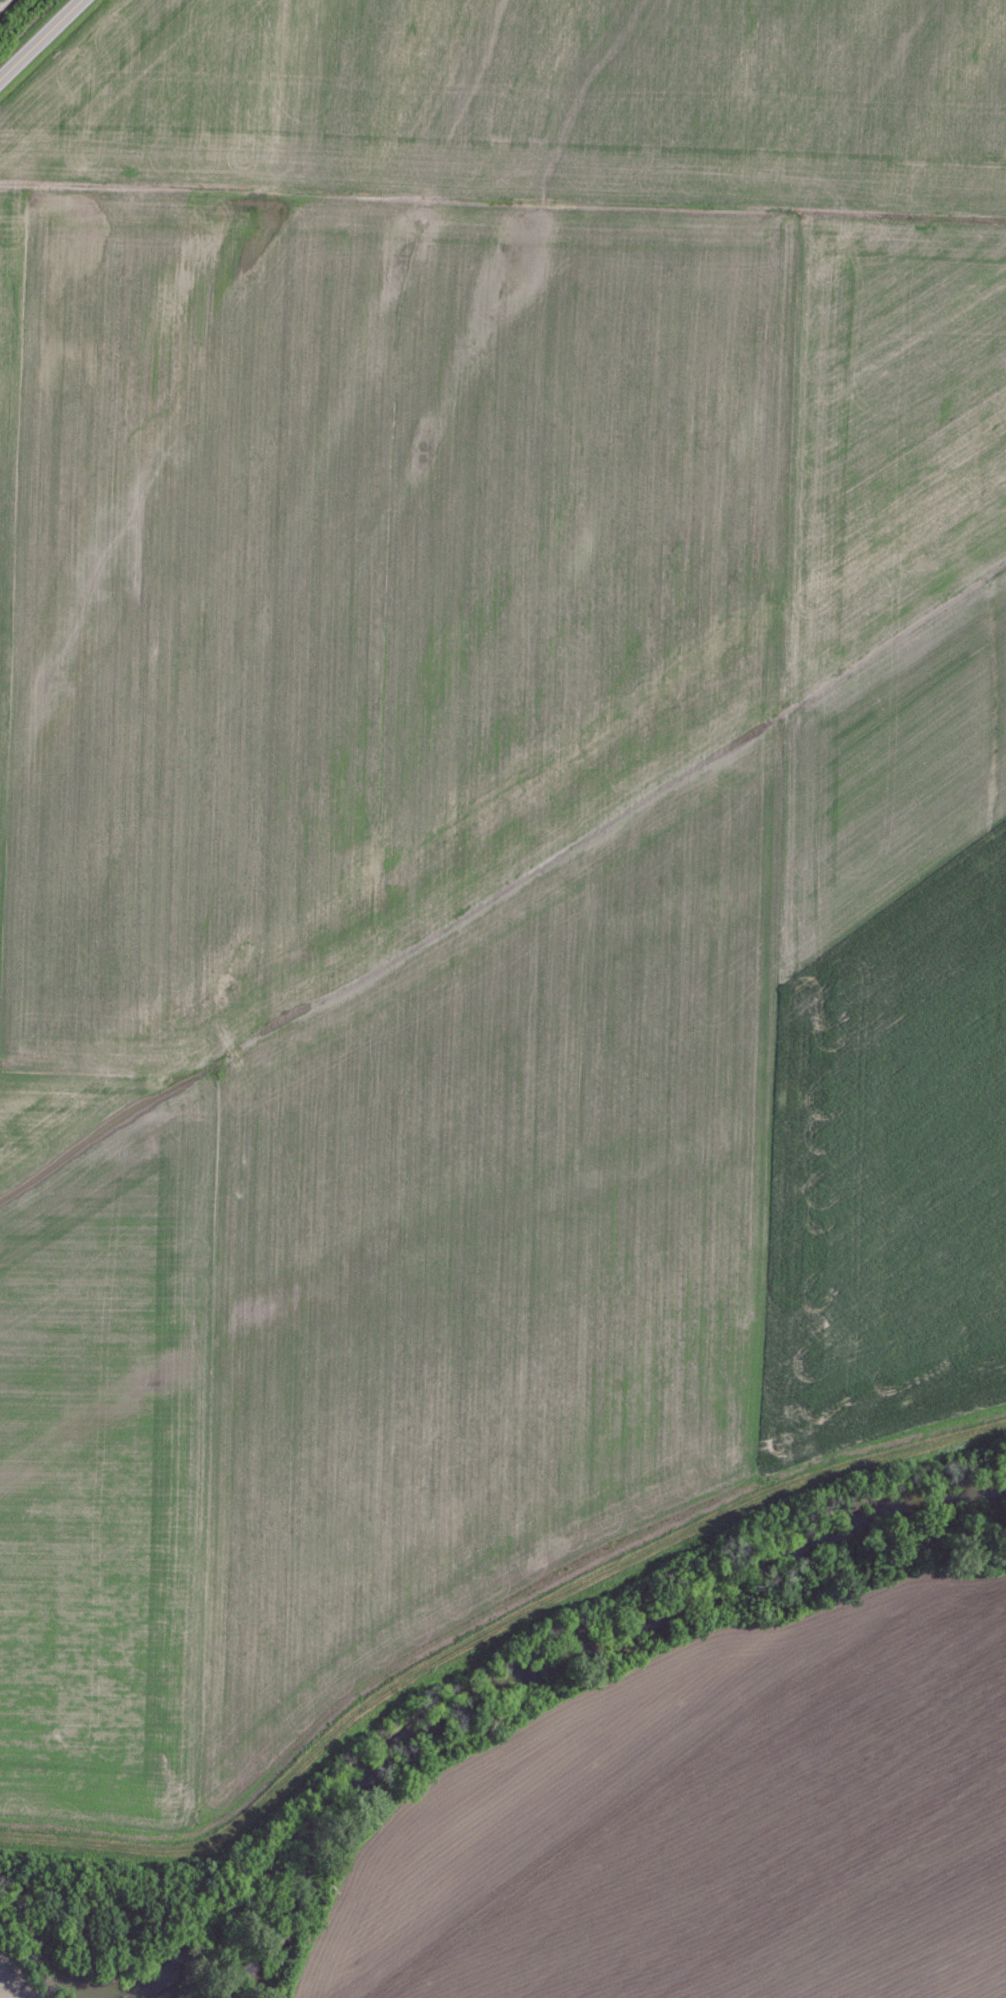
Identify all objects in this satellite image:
road: (1, 1)
road: (39, 39)

